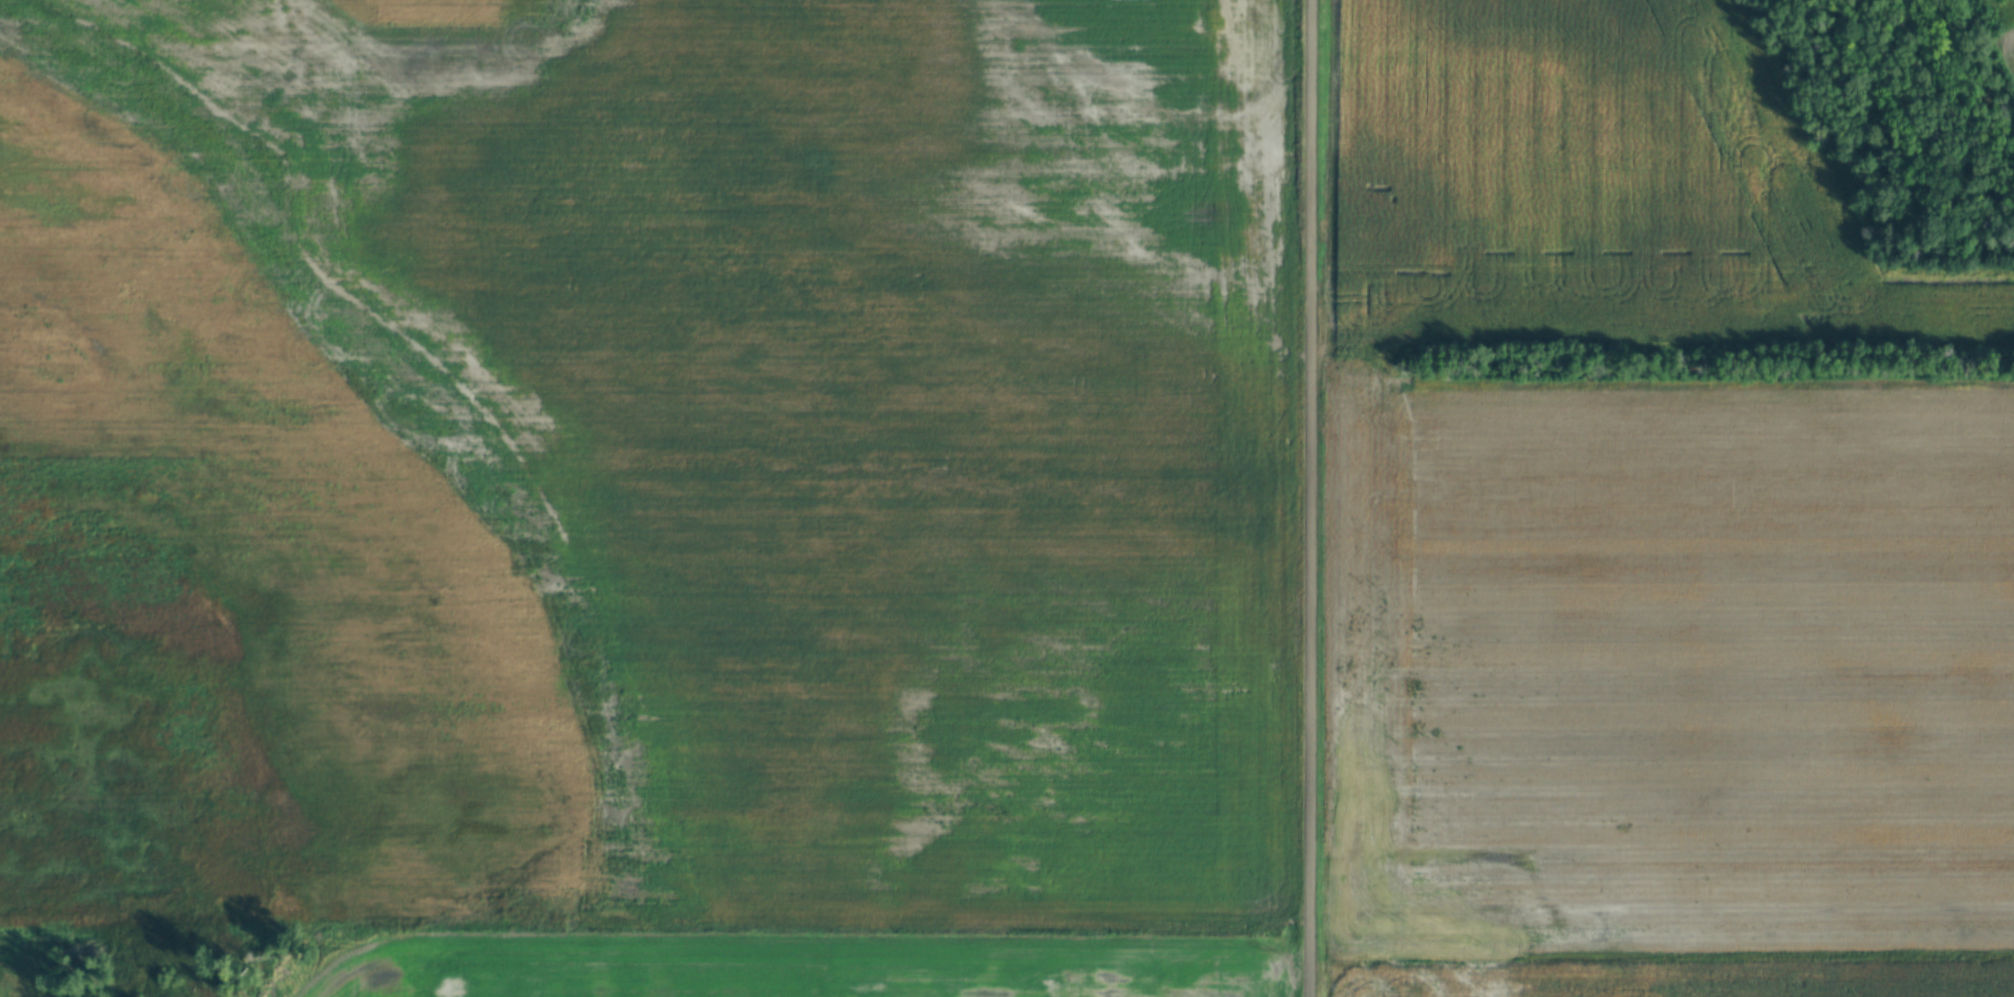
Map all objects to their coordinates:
road: (1314, 498)

